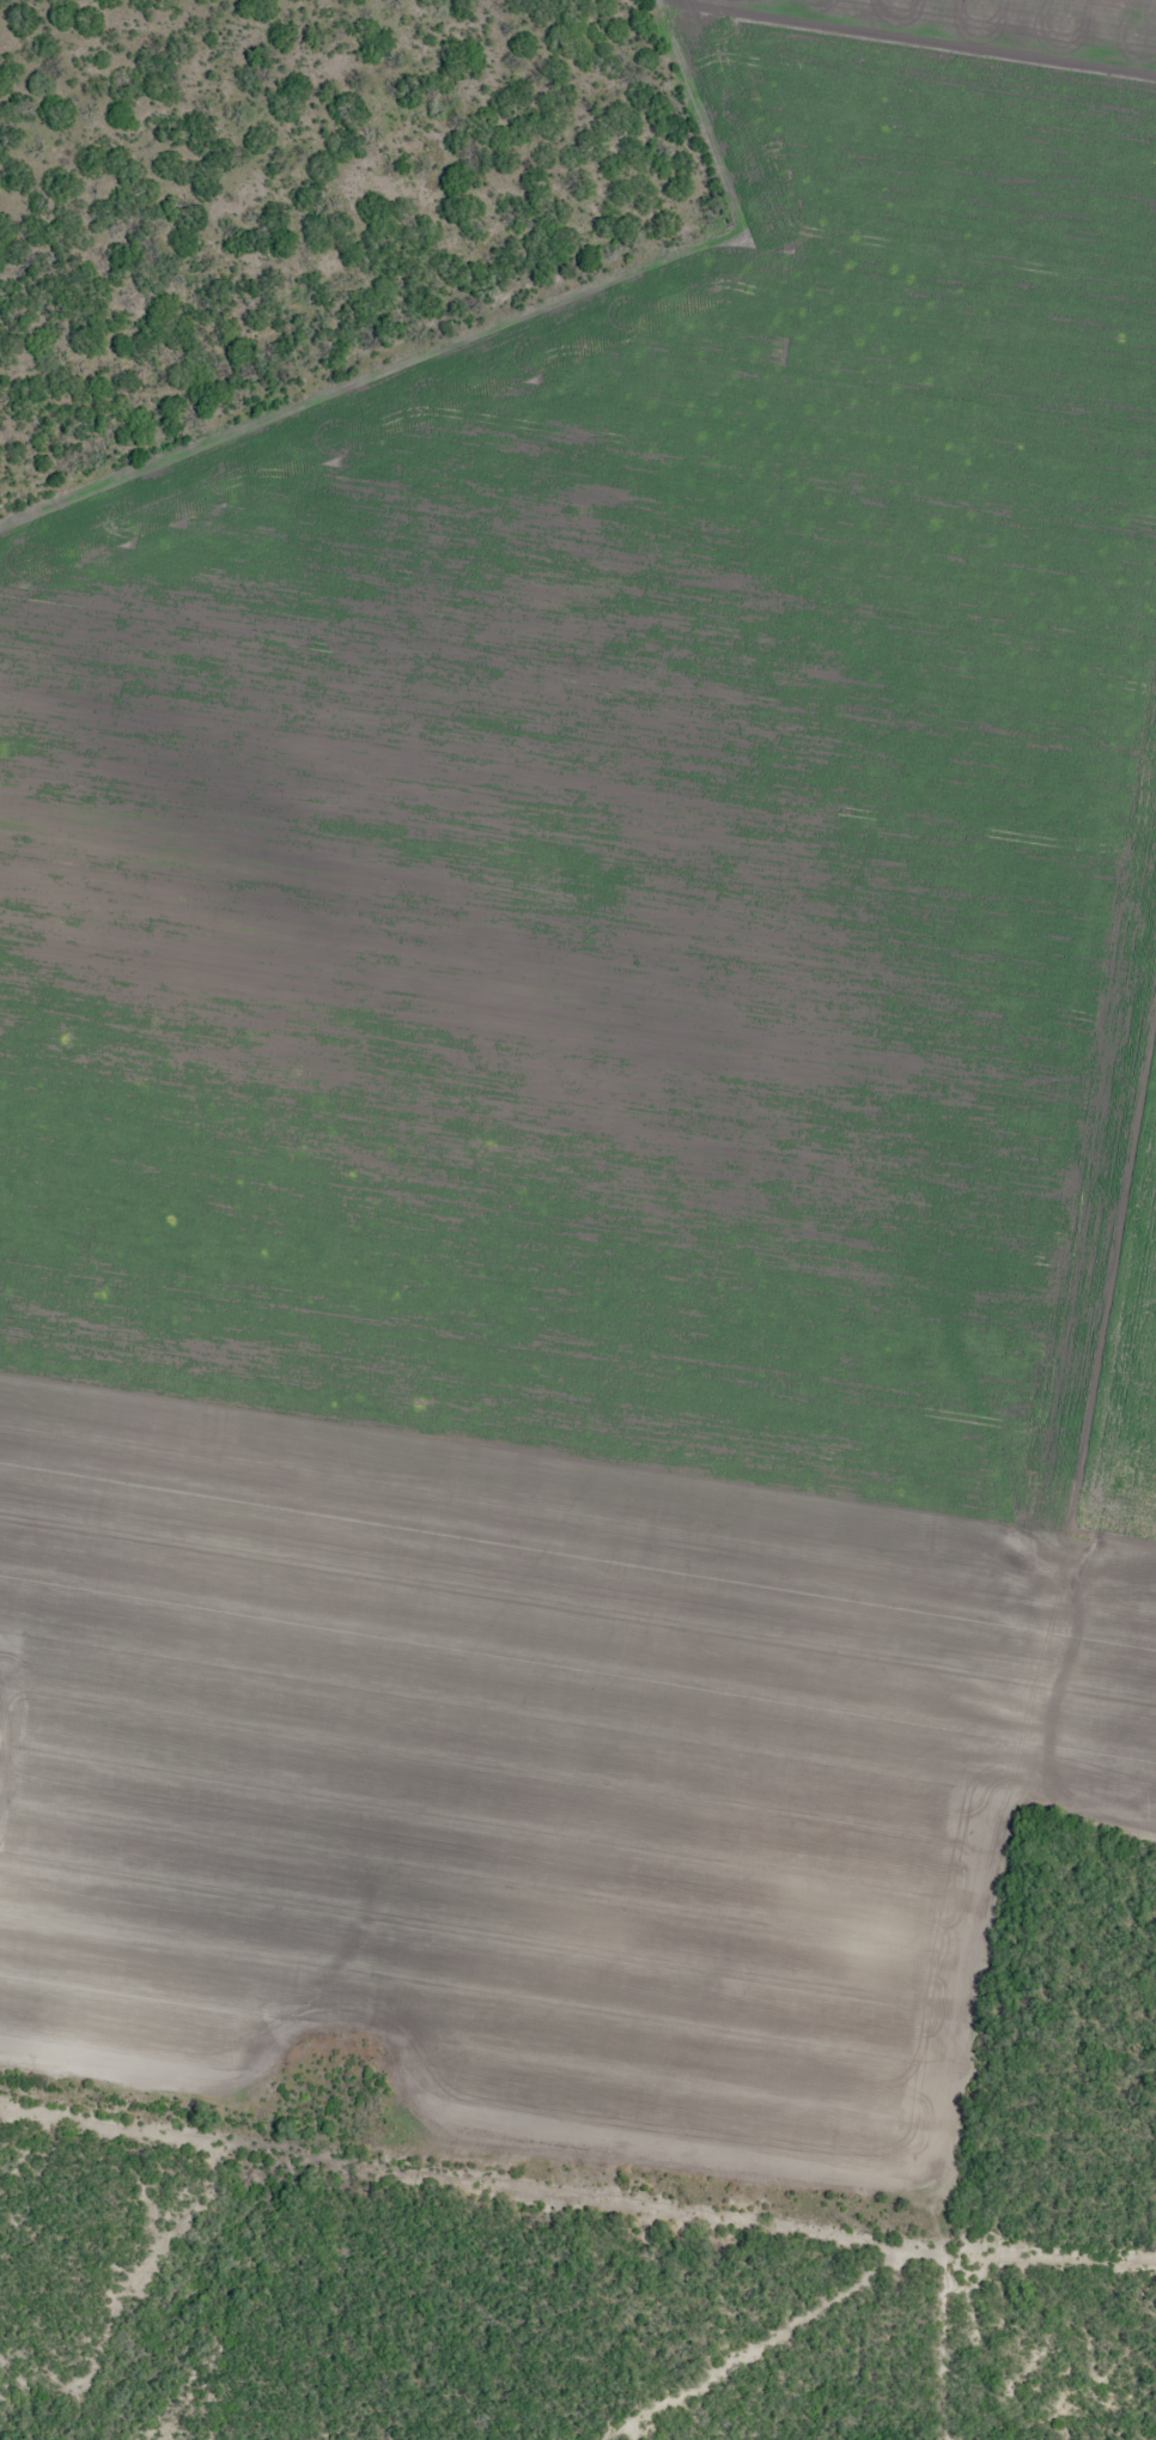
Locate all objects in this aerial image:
road: (908, 38)

